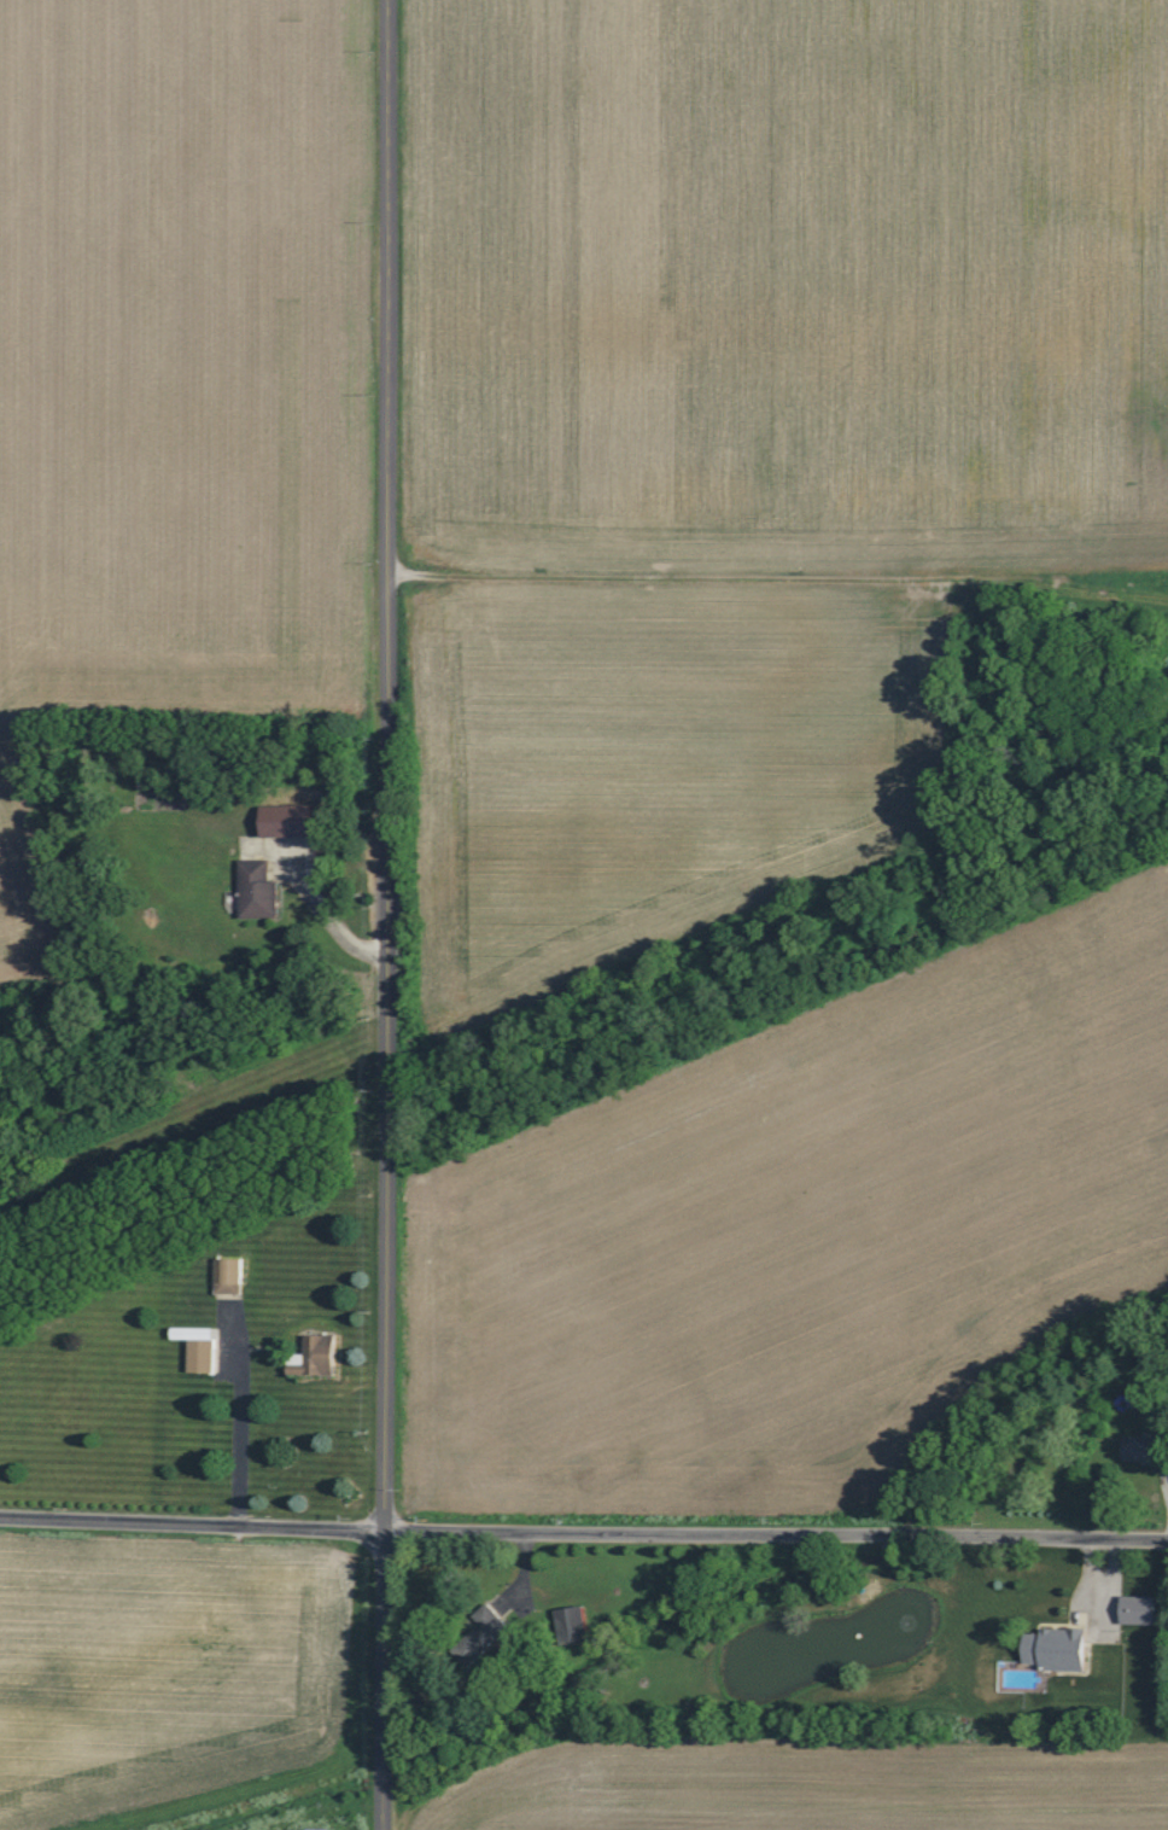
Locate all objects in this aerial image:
building: (288, 821)
building: (257, 890)
road: (387, 915)
road: (325, 916)
building: (229, 1276)
building: (200, 1347)
building: (317, 1357)
road: (239, 1426)
building: (1146, 1450)
road: (583, 1529)
building: (1140, 1610)
building: (576, 1625)
building: (487, 1631)
building: (1058, 1649)

